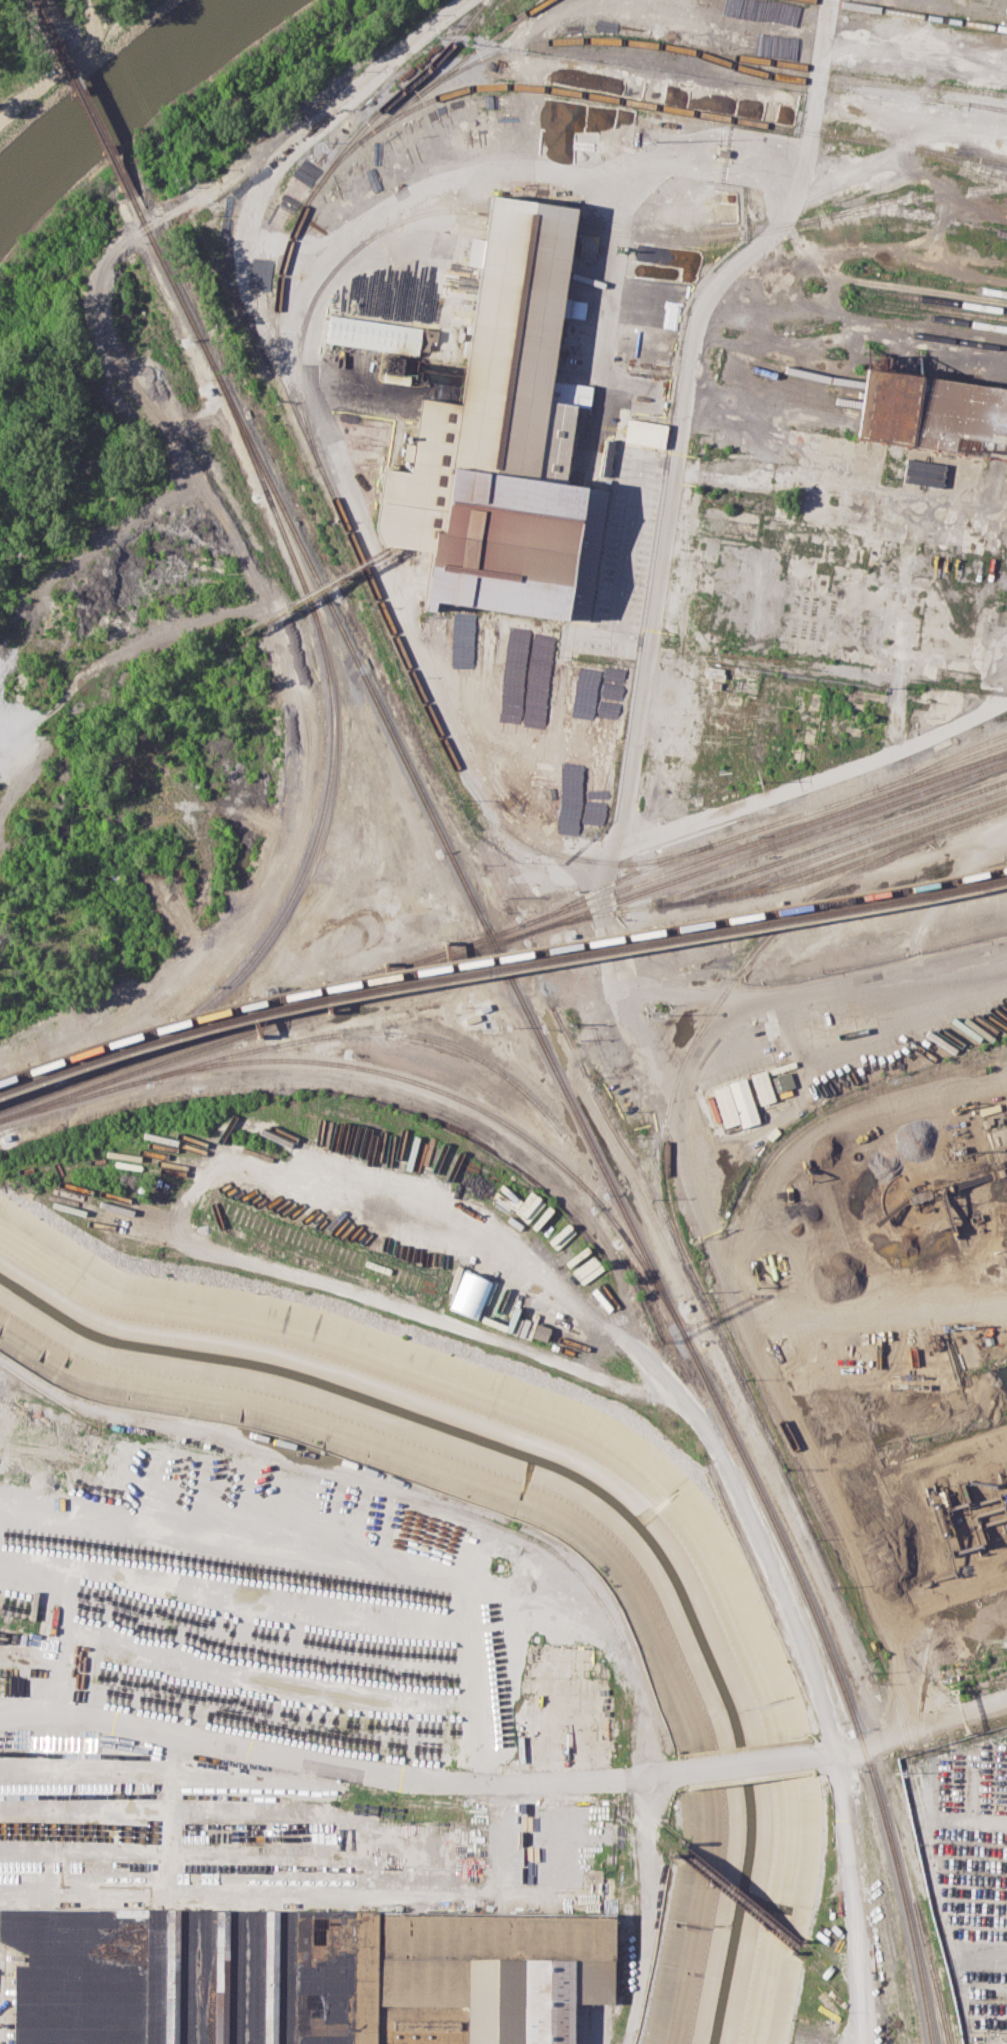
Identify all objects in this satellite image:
railway: (915, 13)
railway: (45, 21)
railway: (484, 43)
railway: (655, 44)
road: (73, 61)
railway: (840, 84)
road: (358, 89)
river: (125, 100)
railway: (683, 110)
railway: (93, 120)
railway: (963, 164)
road: (538, 169)
railway: (919, 216)
railway: (791, 223)
railway: (686, 239)
road: (292, 242)
railway: (323, 284)
railway: (949, 284)
railway: (925, 289)
railway: (929, 298)
railway: (930, 307)
railway: (931, 316)
railway: (899, 320)
railway: (867, 326)
building: (372, 334)
building: (426, 338)
railway: (792, 371)
railway: (792, 379)
railway: (791, 389)
railway: (787, 397)
building: (932, 412)
road: (682, 414)
building: (645, 432)
building: (504, 442)
building: (877, 460)
building: (923, 471)
road: (834, 484)
railway: (334, 499)
road: (626, 544)
road: (383, 574)
railway: (331, 596)
building: (438, 627)
railway: (945, 759)
railway: (409, 770)
road: (835, 774)
railway: (328, 776)
building: (570, 824)
railway: (760, 826)
railway: (817, 847)
railway: (839, 848)
railway: (860, 851)
railway: (768, 888)
railway: (503, 930)
railway: (503, 939)
railway: (499, 957)
railway: (499, 968)
road: (814, 987)
railway: (722, 997)
railway: (357, 1033)
road: (696, 1070)
railway: (392, 1074)
building: (782, 1080)
building: (762, 1086)
building: (743, 1101)
building: (999, 1145)
road: (833, 1147)
railway: (770, 1154)
railway: (709, 1302)
road: (909, 1319)
road: (745, 1322)
road: (778, 1322)
building: (540, 1332)
railway: (651, 1337)
river: (581, 1481)
railway: (440, 1504)
railway: (839, 1683)
road: (968, 1711)
road: (9, 1717)
road: (872, 1741)
road: (746, 1761)
road: (337, 1768)
railway: (380, 1820)
railway: (928, 1822)
railway: (882, 1888)
road: (850, 1896)
railway: (741, 1897)
railway: (932, 1973)
building: (304, 1976)
railway: (841, 1991)

